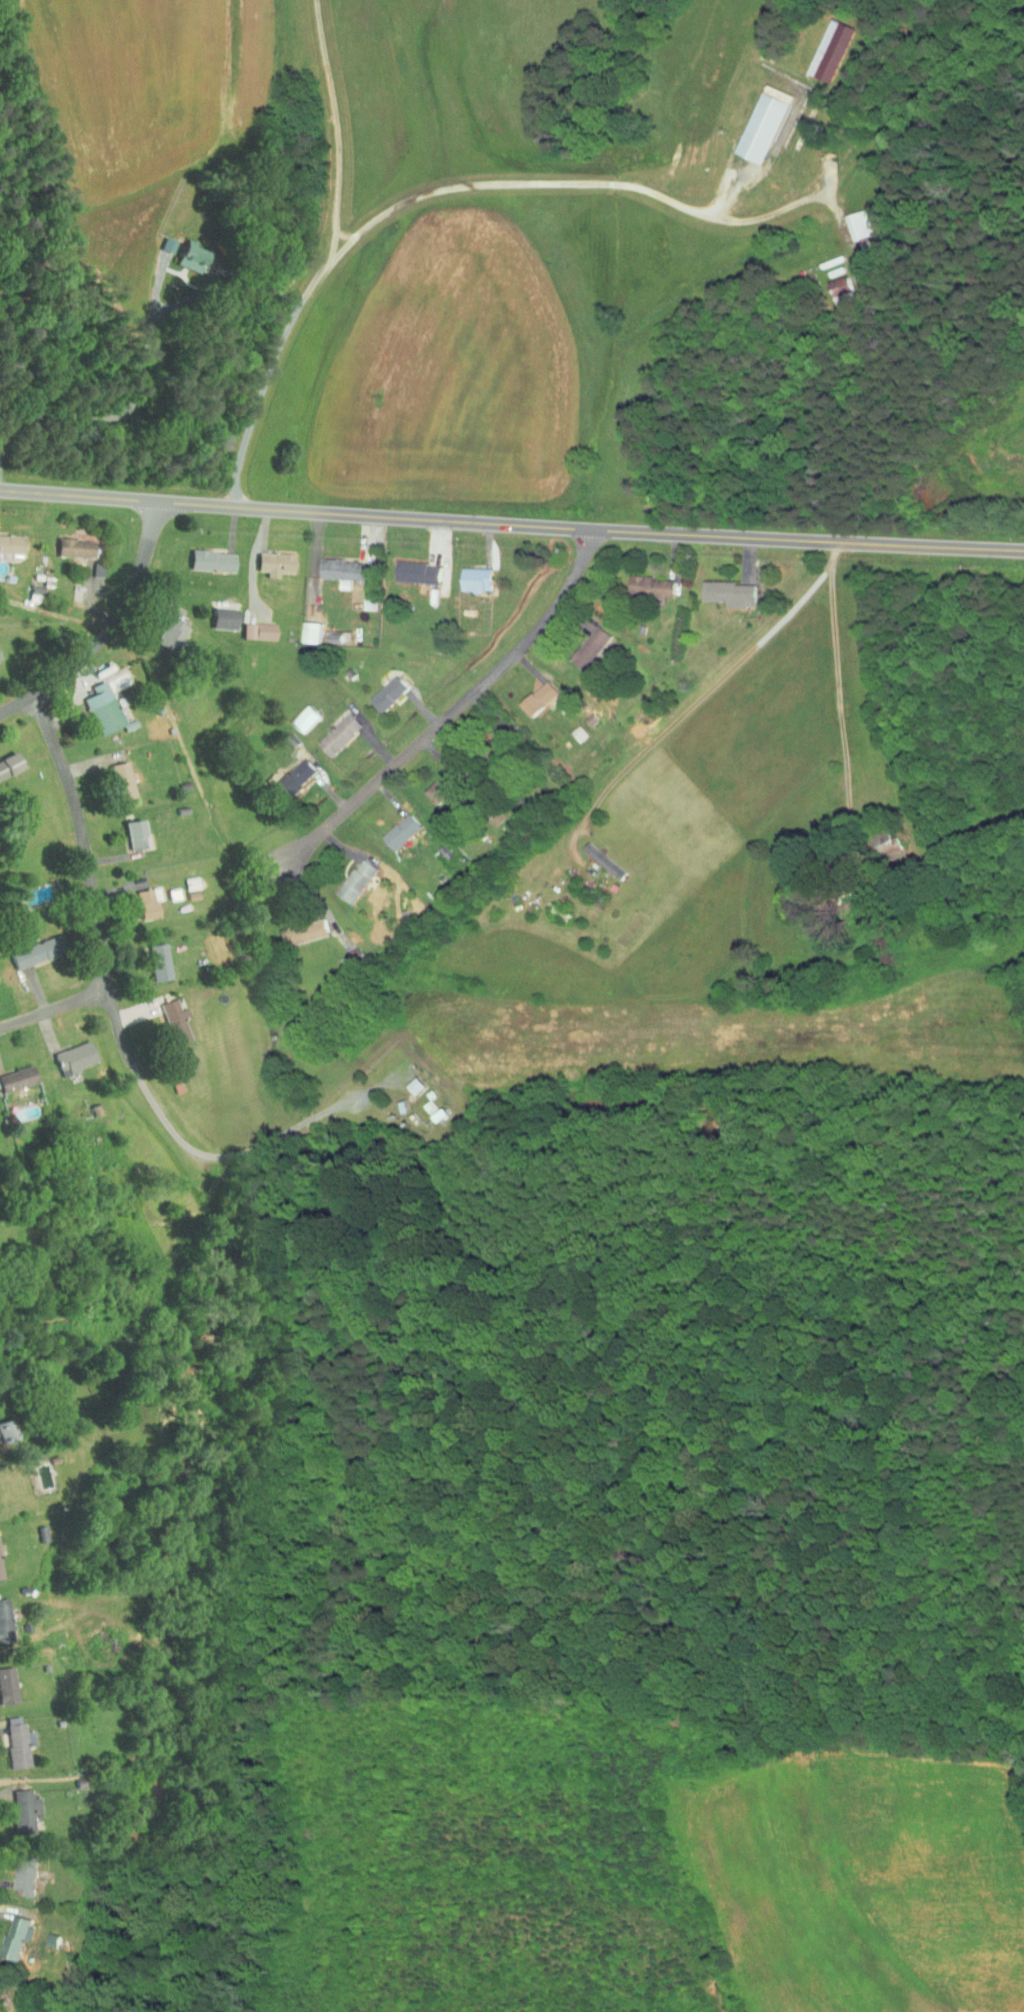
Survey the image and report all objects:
building: (822, 45)
road: (423, 94)
road: (260, 103)
building: (757, 118)
road: (659, 197)
building: (848, 219)
building: (184, 252)
building: (830, 280)
road: (258, 284)
road: (294, 317)
road: (511, 524)
building: (8, 538)
building: (68, 541)
building: (205, 555)
building: (268, 557)
building: (337, 565)
building: (408, 566)
building: (467, 573)
building: (642, 580)
building: (720, 587)
building: (361, 597)
building: (218, 612)
building: (252, 625)
building: (304, 626)
building: (165, 628)
road: (107, 631)
building: (581, 641)
building: (380, 687)
building: (531, 692)
building: (96, 702)
road: (690, 705)
road: (842, 708)
building: (297, 712)
building: (332, 728)
road: (438, 730)
building: (6, 758)
building: (287, 773)
building: (116, 774)
building: (435, 782)
building: (393, 825)
building: (128, 828)
building: (347, 874)
building: (140, 897)
building: (304, 926)
road: (103, 932)
building: (26, 947)
building: (153, 956)
road: (56, 1002)
building: (169, 1015)
building: (67, 1052)
building: (13, 1072)
building: (408, 1080)
building: (421, 1101)
building: (4, 1426)
building: (1, 1622)
building: (3, 1681)
building: (12, 1739)
building: (16, 1805)
building: (15, 1872)
building: (9, 1929)

